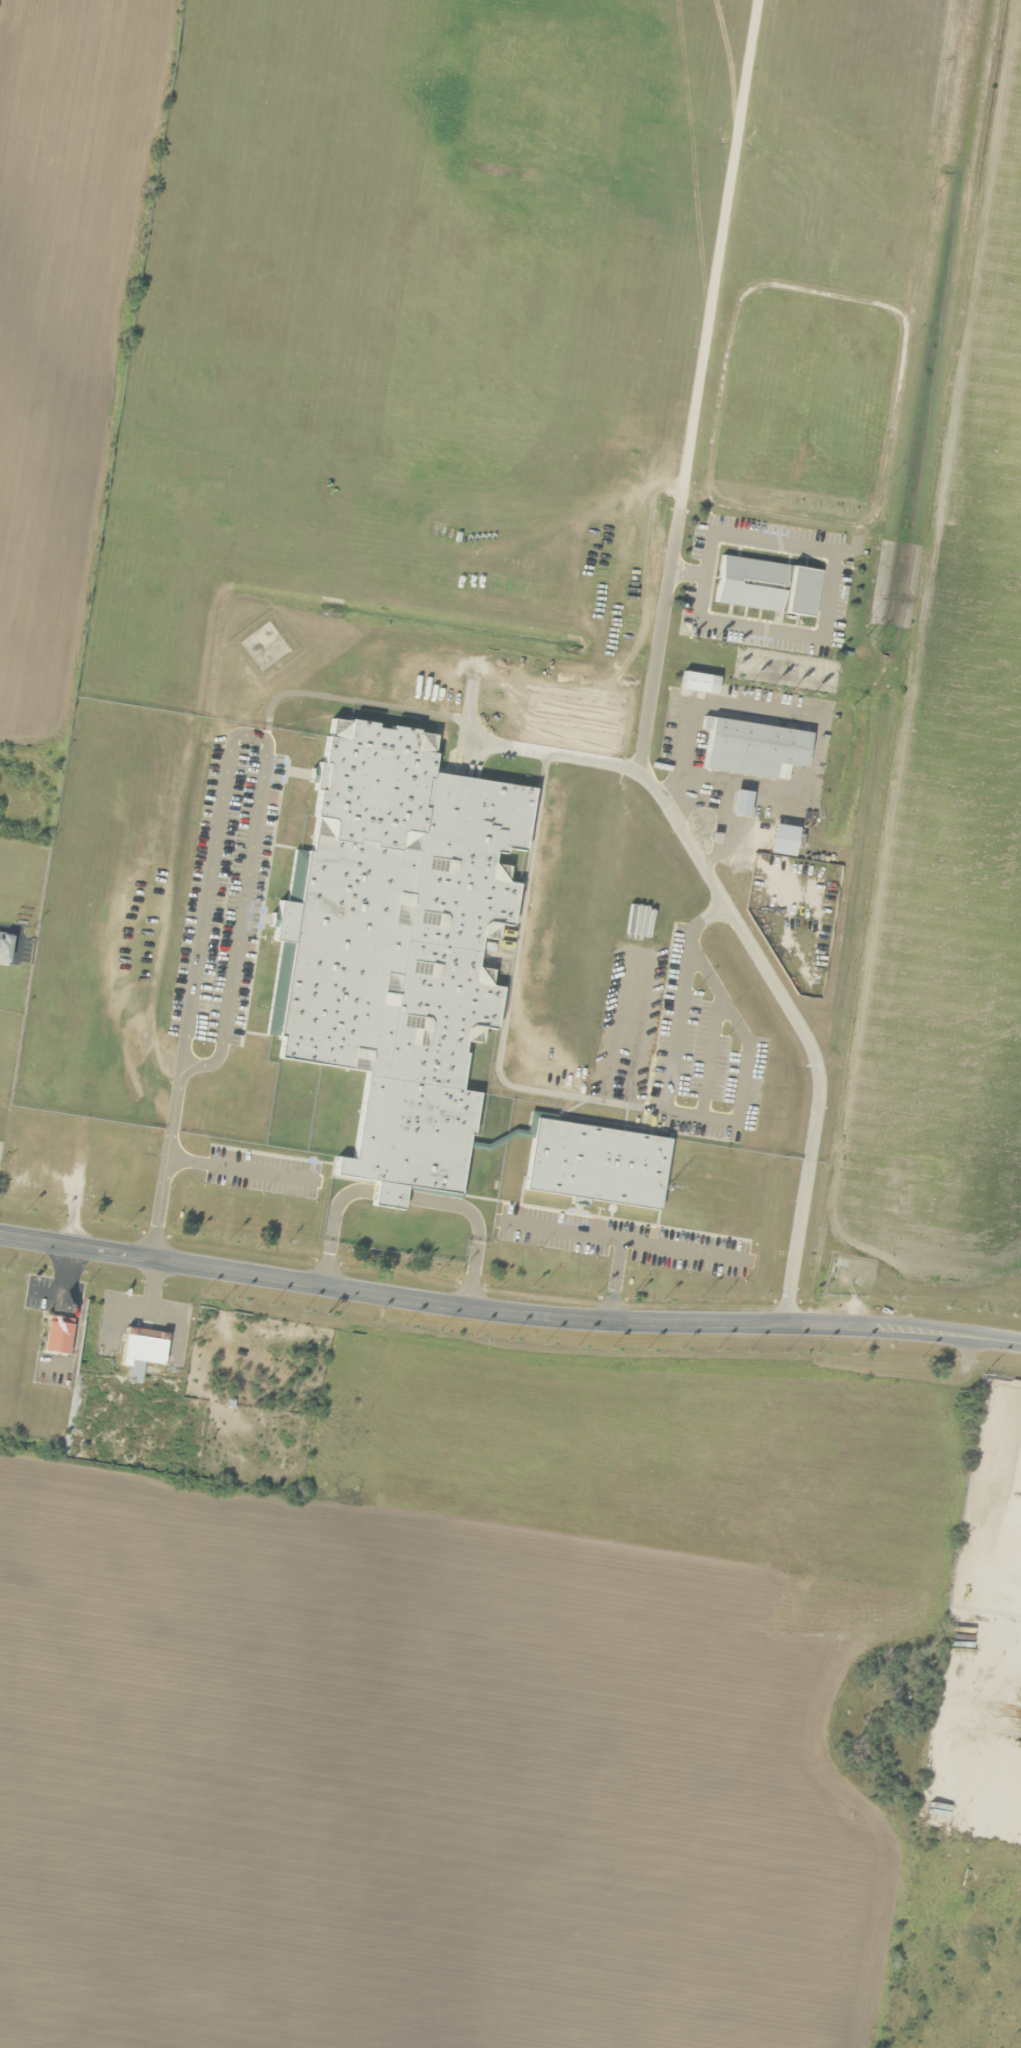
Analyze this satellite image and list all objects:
road: (716, 254)
building: (763, 587)
building: (689, 682)
building: (746, 747)
road: (558, 753)
building: (736, 801)
road: (253, 820)
road: (728, 913)
building: (417, 977)
road: (239, 1171)
road: (624, 1241)
road: (614, 1280)
road: (507, 1314)
building: (54, 1334)
building: (137, 1351)

